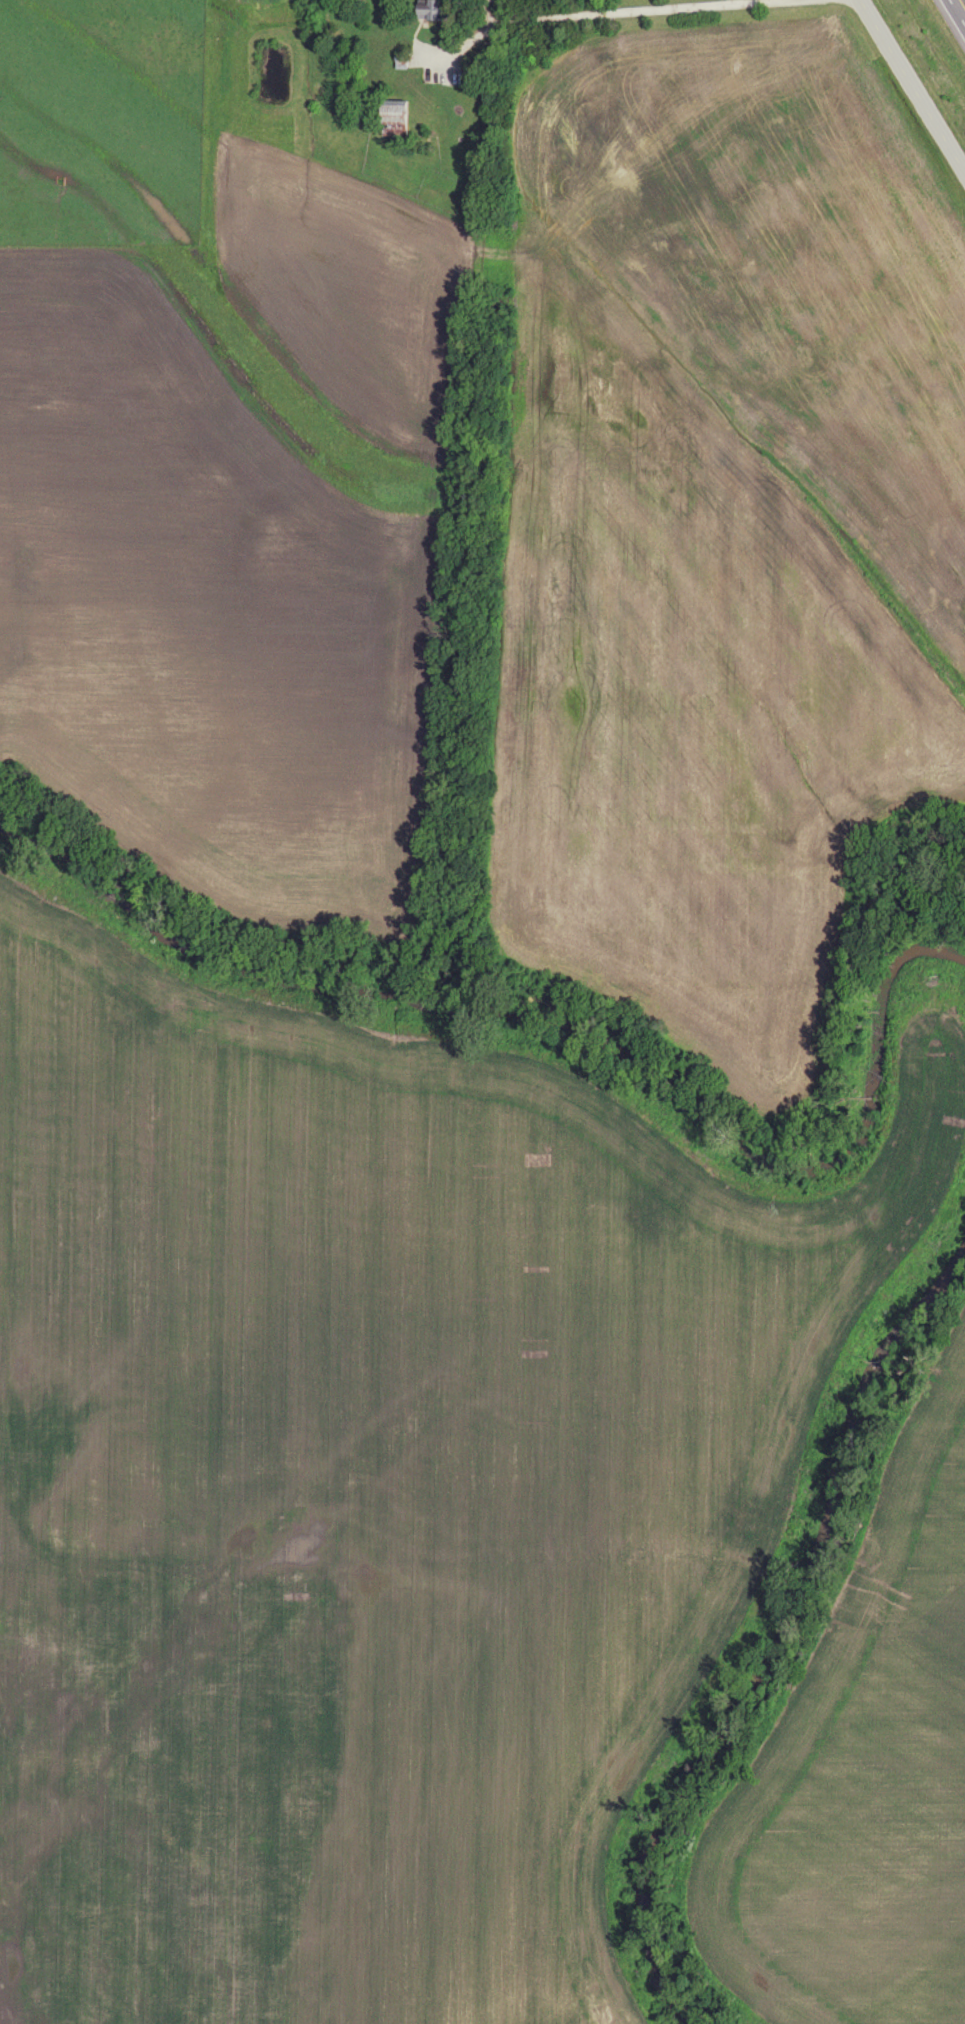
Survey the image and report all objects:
road: (566, 5)
building: (433, 9)
road: (955, 14)
road: (912, 86)
building: (405, 113)

